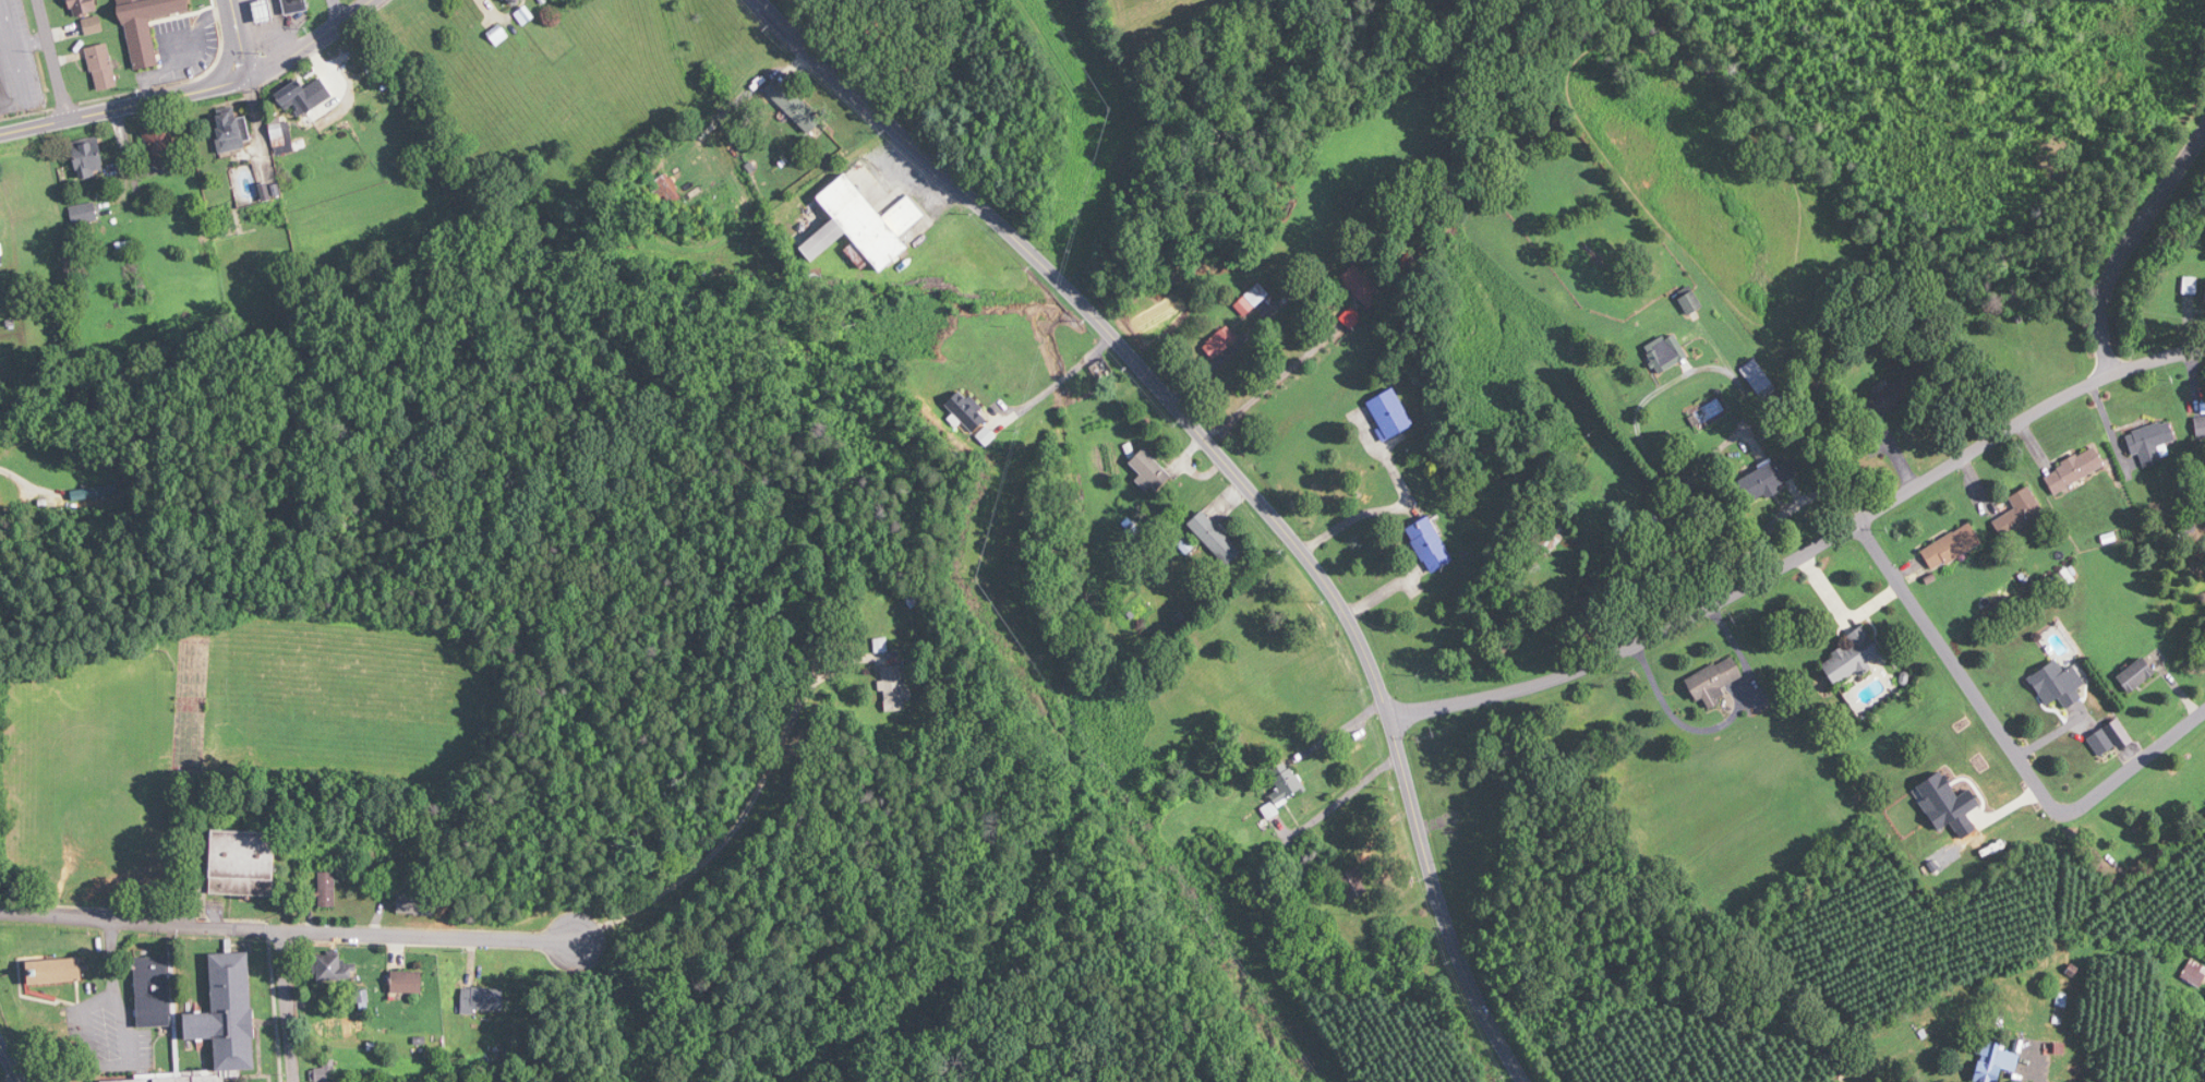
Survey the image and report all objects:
building: (513, 1)
building: (294, 4)
building: (81, 7)
gas station: (263, 10)
road: (337, 10)
building: (94, 26)
building: (144, 26)
road: (239, 37)
road: (311, 41)
parking lot: (182, 48)
road: (52, 58)
parking lot: (16, 59)
building: (103, 67)
road: (180, 81)
building: (296, 98)
road: (123, 104)
building: (794, 105)
building: (230, 129)
building: (281, 135)
building: (158, 142)
building: (87, 157)
road: (121, 157)
building: (84, 214)
building: (859, 225)
road: (2128, 243)
building: (1364, 287)
building: (1254, 300)
building: (1691, 302)
road: (1109, 330)
building: (1222, 342)
building: (1665, 353)
building: (1105, 372)
road: (1058, 380)
road: (1270, 383)
building: (967, 412)
building: (1394, 414)
building: (2200, 422)
building: (2149, 442)
building: (1152, 469)
building: (2073, 470)
building: (1766, 478)
building: (1, 505)
building: (2020, 514)
building: (1556, 534)
building: (1216, 539)
building: (1431, 544)
building: (1951, 548)
road: (1805, 551)
building: (1136, 614)
building: (883, 646)
road: (818, 653)
building: (1849, 658)
road: (1956, 669)
building: (2133, 675)
building: (1714, 683)
building: (2053, 685)
building: (896, 688)
building: (2100, 742)
road: (2134, 762)
building: (1287, 788)
building: (1312, 858)
building: (241, 863)
building: (327, 889)
building: (413, 904)
road: (1439, 905)
road: (132, 919)
road: (573, 933)
building: (335, 967)
building: (53, 970)
building: (2194, 972)
building: (407, 982)
building: (154, 991)
building: (484, 998)
road: (272, 1006)
building: (224, 1020)
road: (112, 1047)
building: (1996, 1061)
road: (10, 1063)
building: (326, 1071)
road: (9, 1078)
road: (2035, 1079)
building: (129, 1080)

